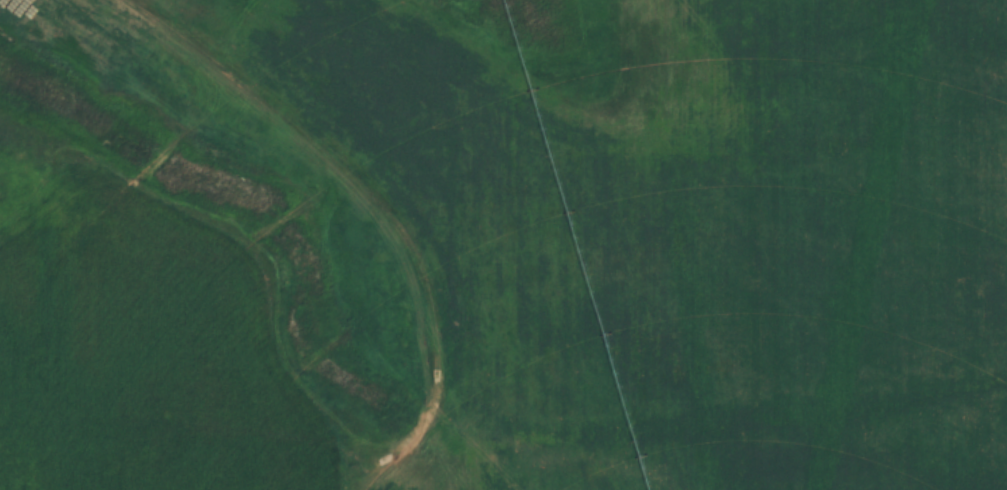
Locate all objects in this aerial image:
crop: (538, 251)

